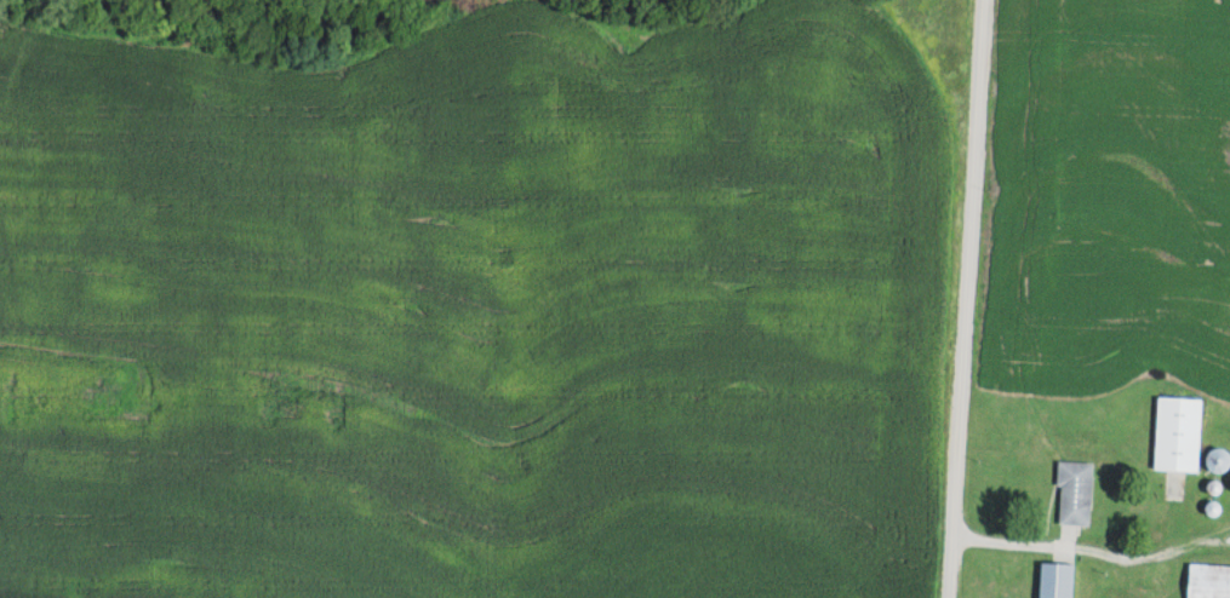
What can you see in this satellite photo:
road: (966, 299)
building: (1182, 433)
building: (1220, 459)
building: (1079, 493)
road: (942, 531)
building: (1059, 580)
building: (1211, 581)

